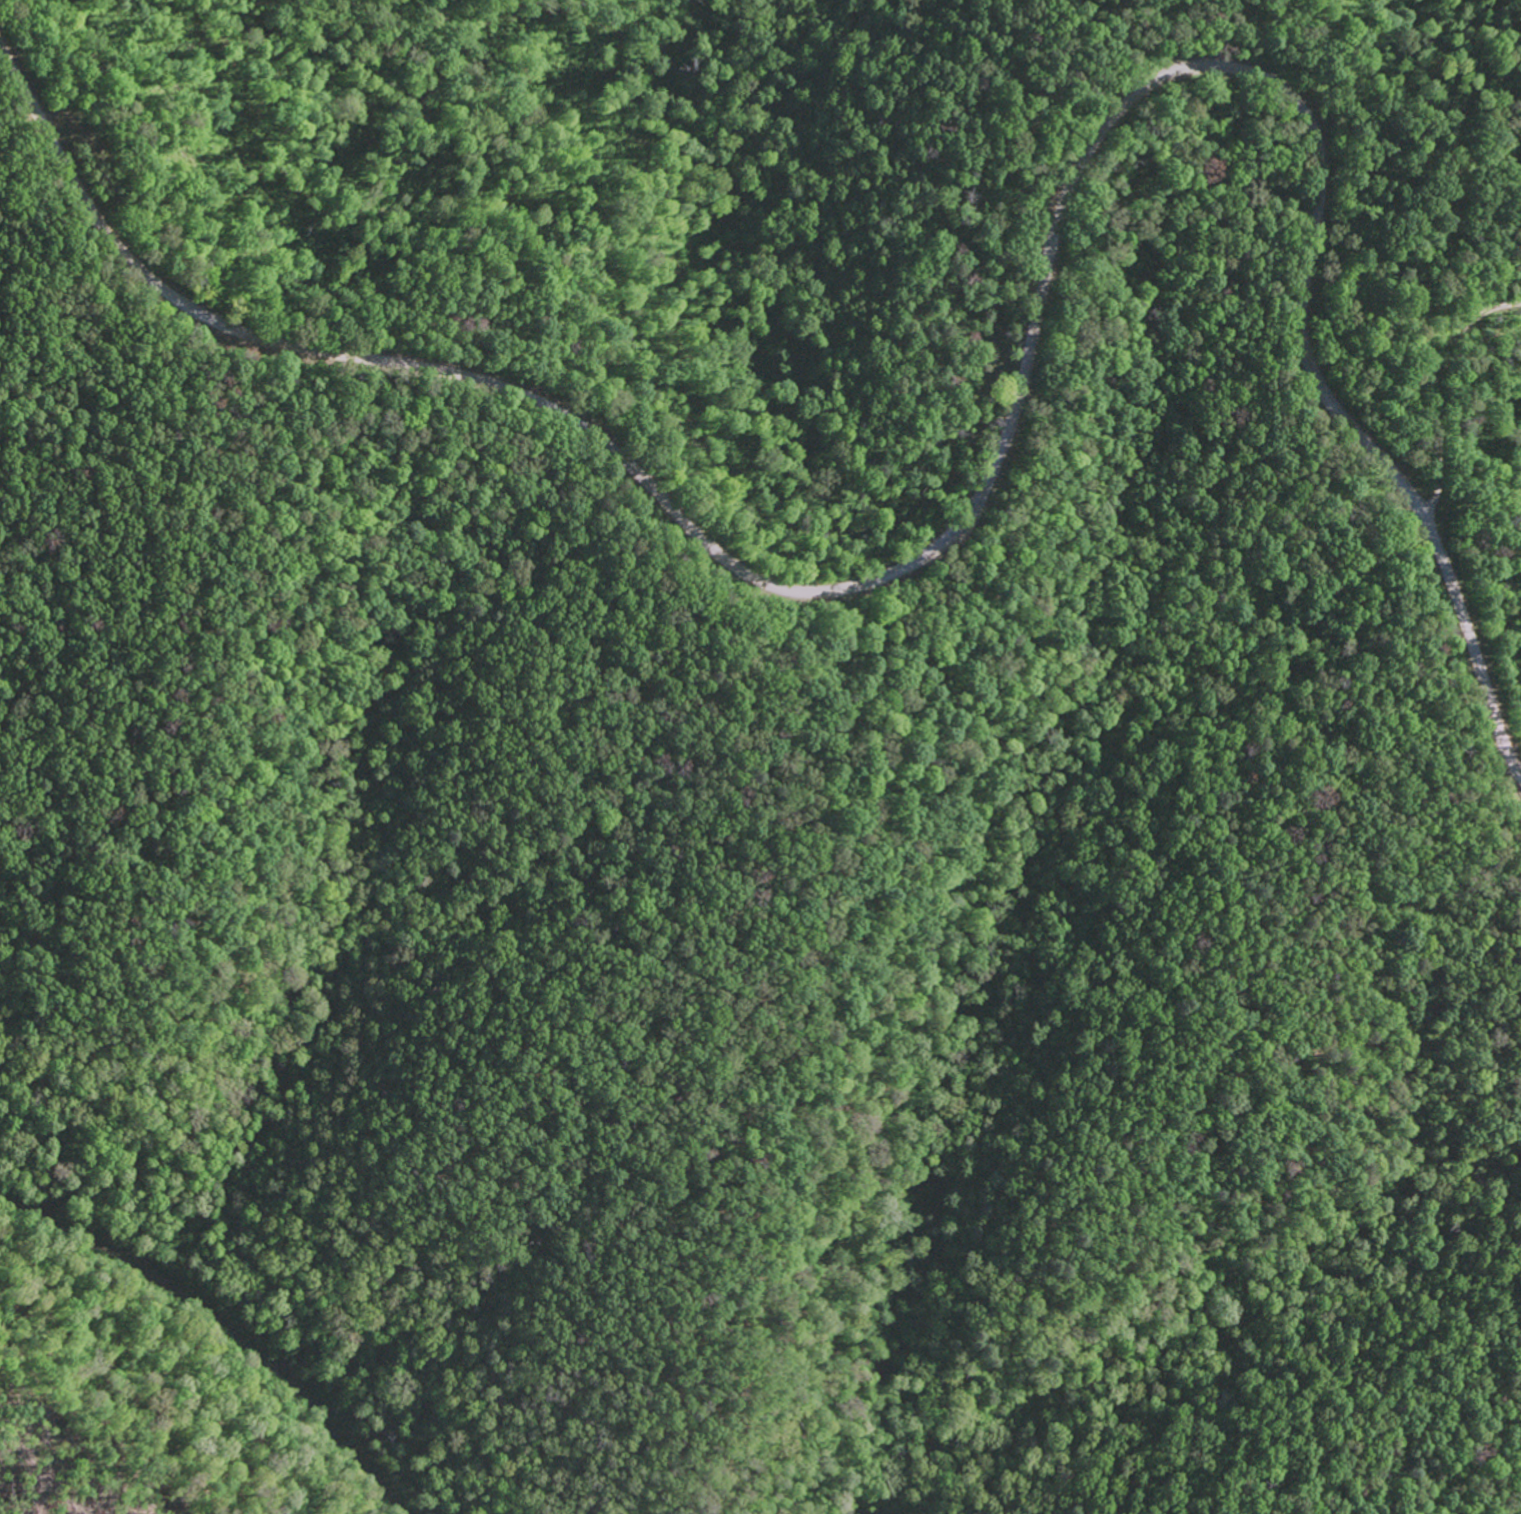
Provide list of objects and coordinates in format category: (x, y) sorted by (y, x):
road: (998, 445)

